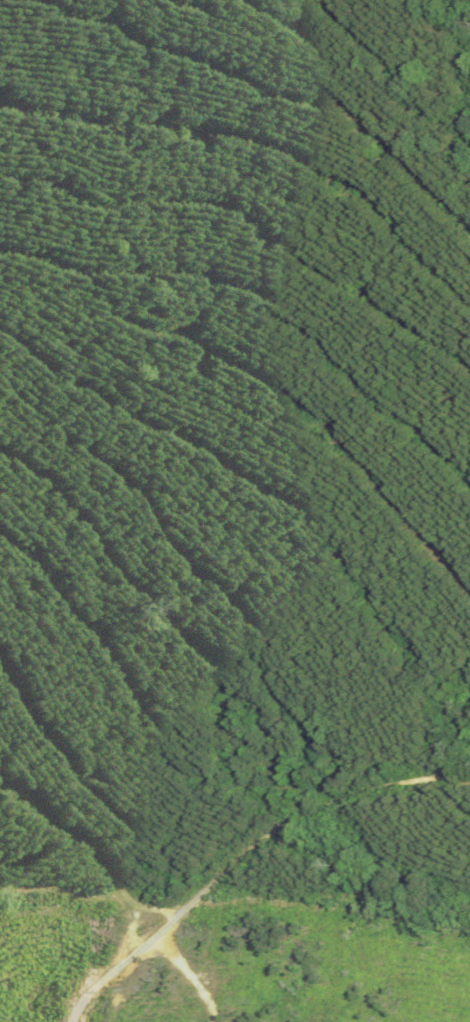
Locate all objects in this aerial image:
road: (379, 96)
road: (244, 852)

